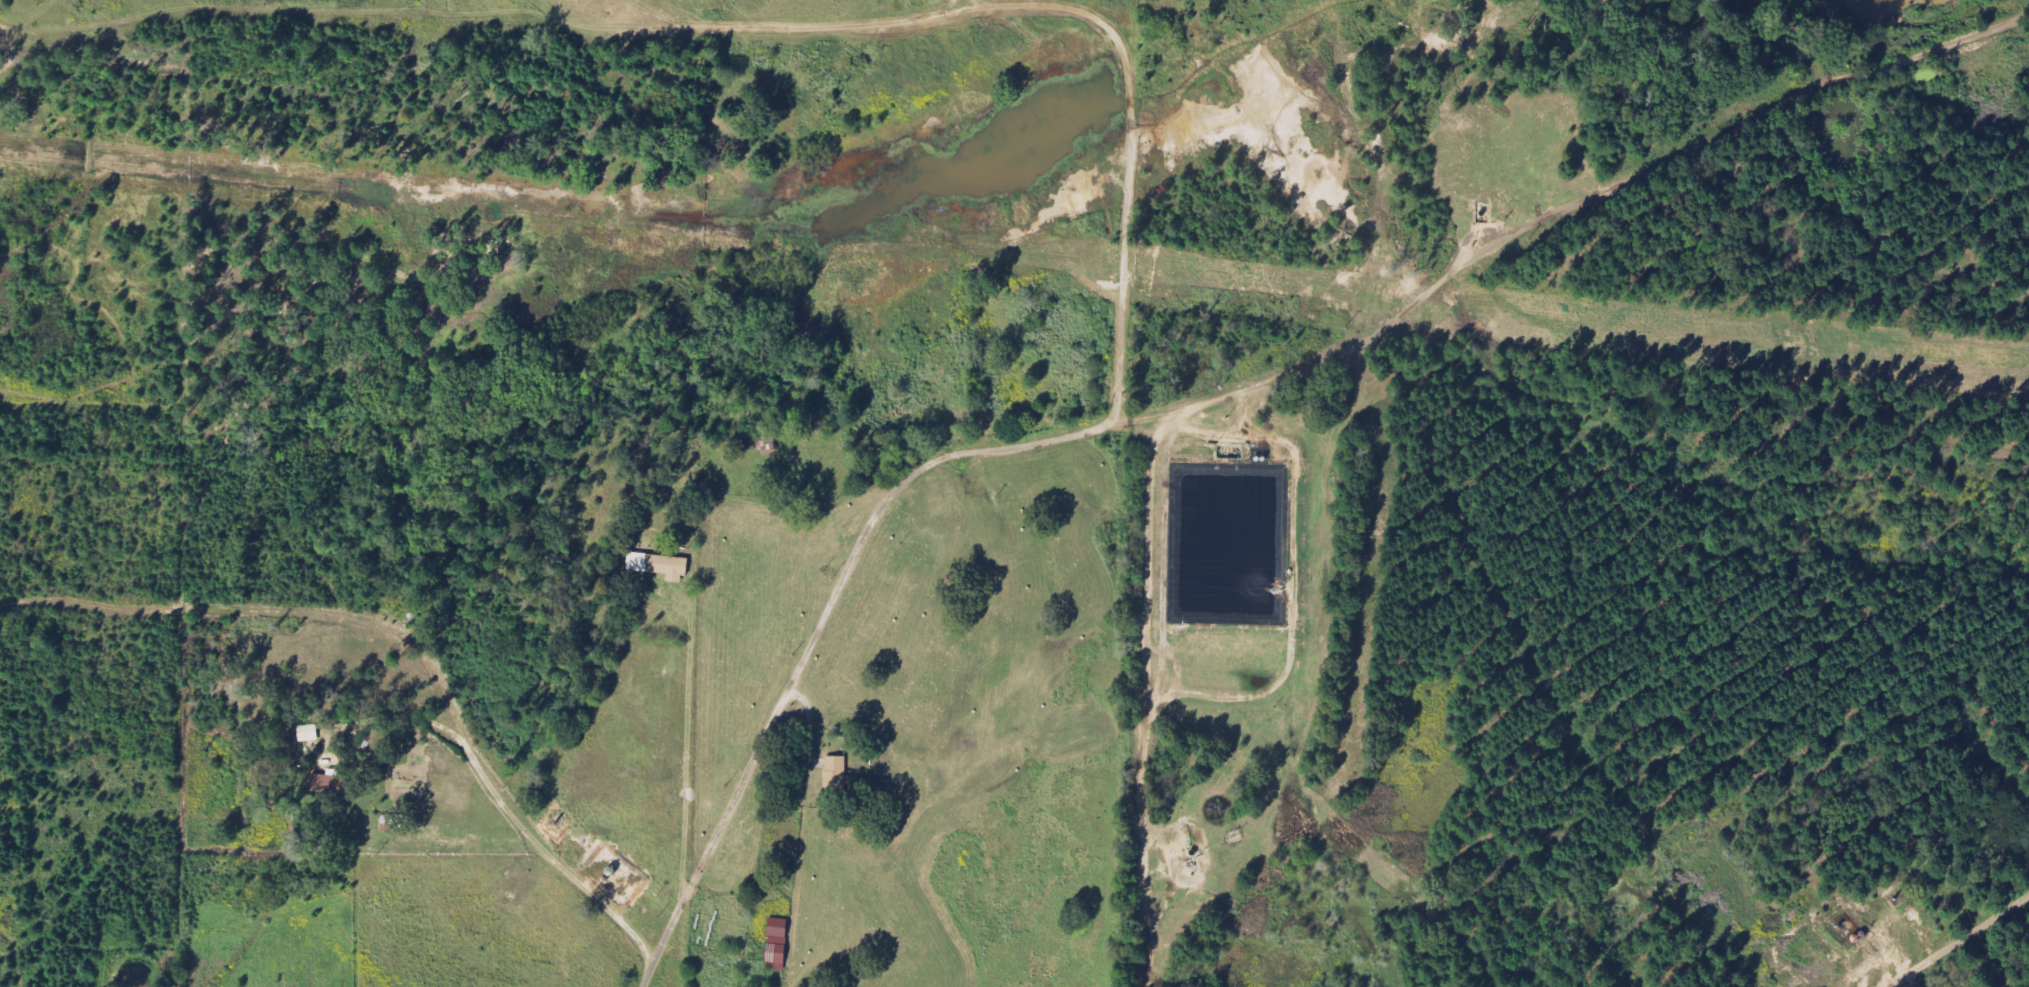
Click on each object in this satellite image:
road: (1292, 451)
building: (657, 566)
road: (817, 630)
road: (1142, 694)
building: (308, 735)
building: (835, 772)
road: (1960, 941)
building: (775, 942)

